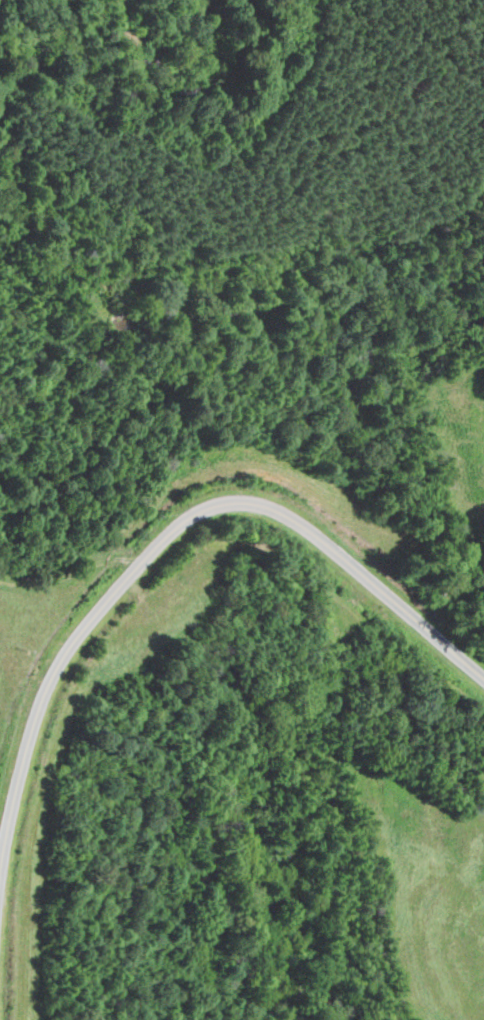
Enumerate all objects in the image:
road: (171, 534)

